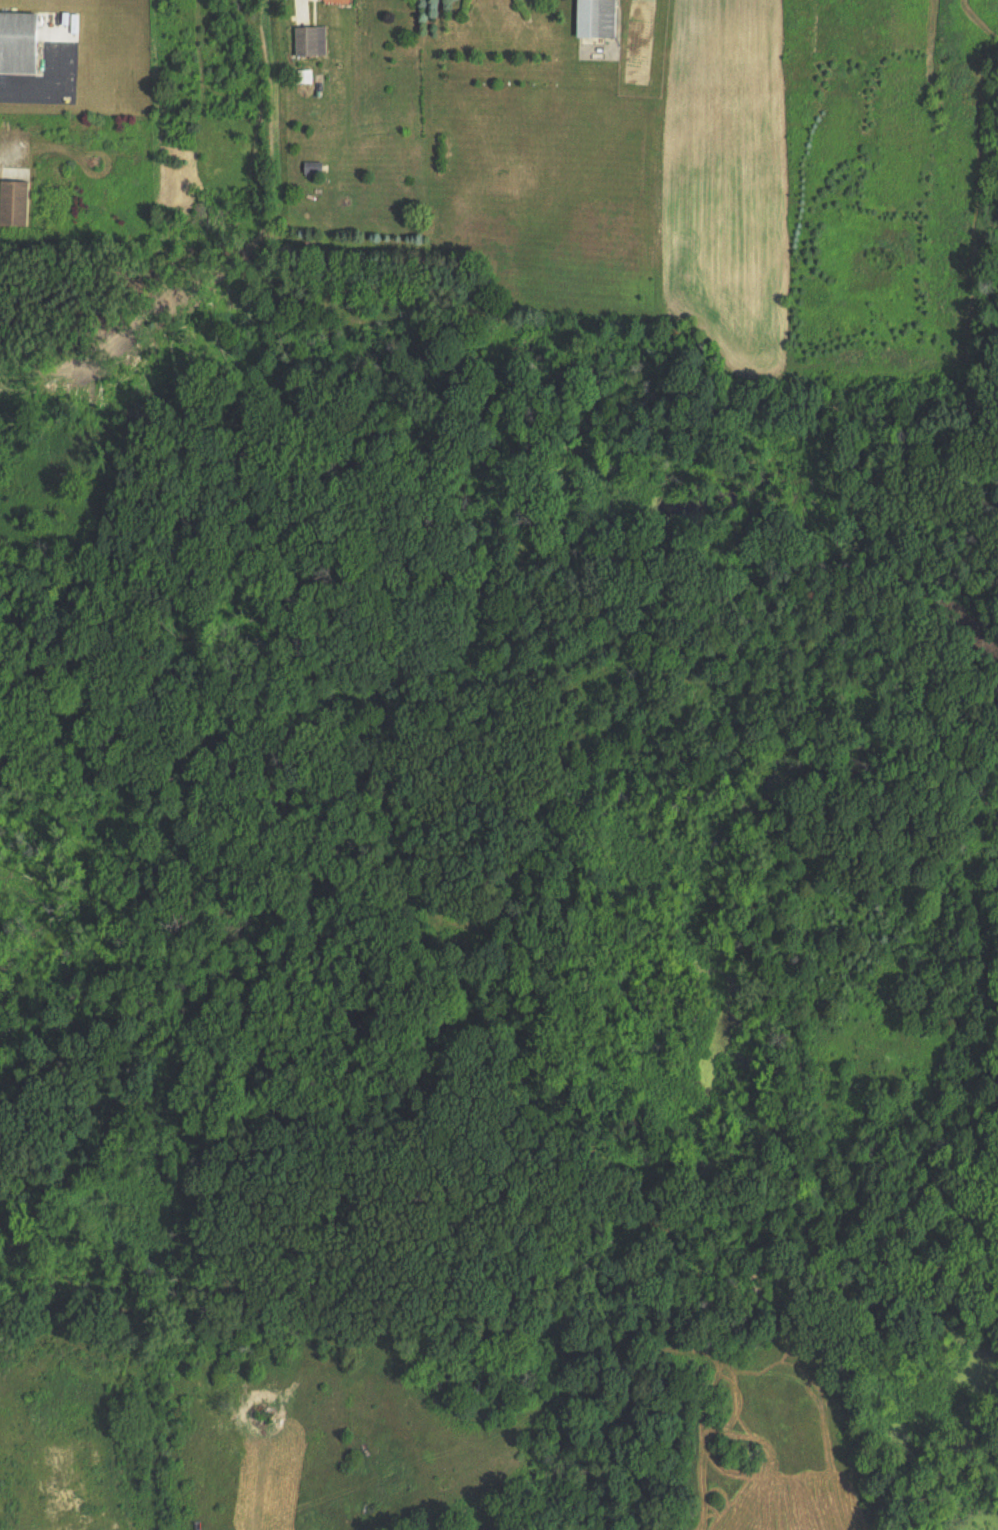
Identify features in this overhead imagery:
building: (598, 18)
building: (311, 41)
building: (19, 42)
building: (14, 203)

